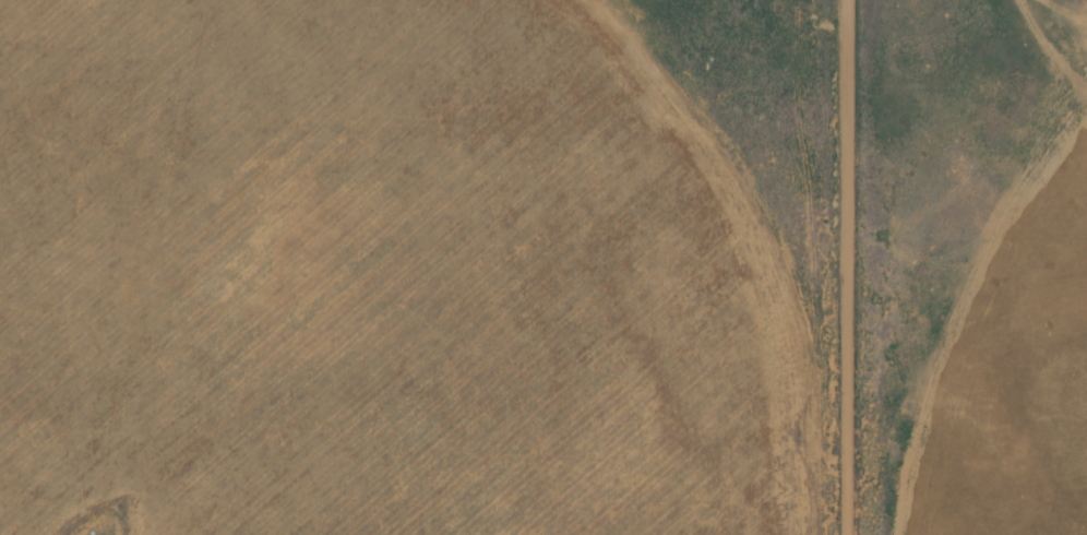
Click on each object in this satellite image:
road: (851, 345)

